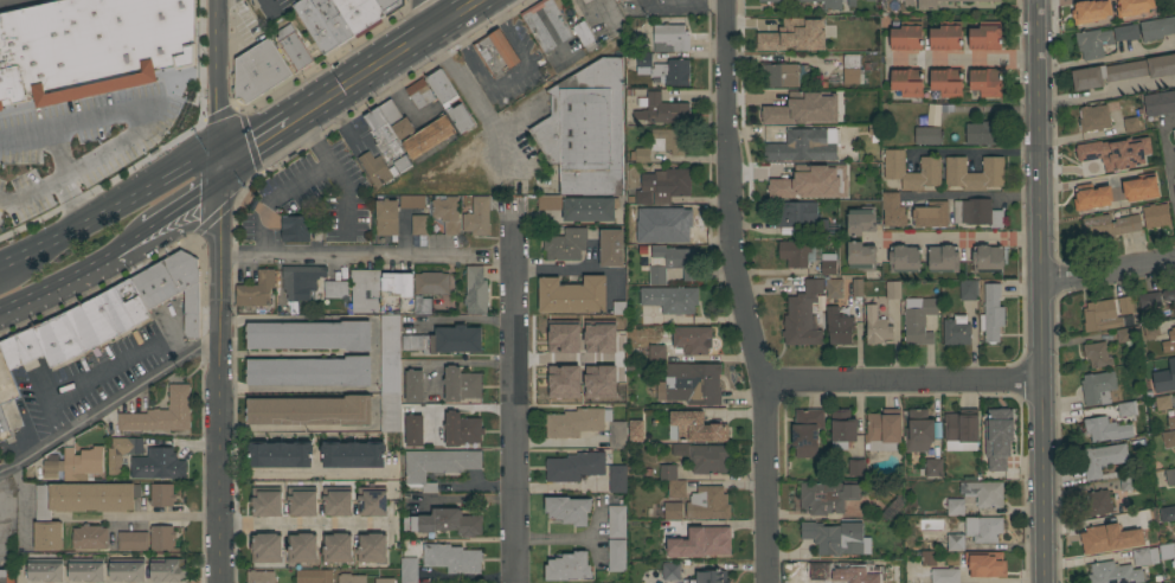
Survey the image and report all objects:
building: (617, 0)
building: (869, 0)
building: (589, 2)
building: (907, 2)
building: (850, 4)
building: (1171, 4)
building: (389, 5)
building: (926, 5)
building: (832, 7)
building: (1132, 7)
building: (1090, 11)
building: (359, 14)
road: (428, 14)
building: (333, 19)
building: (559, 24)
building: (315, 25)
building: (1157, 28)
building: (1125, 32)
building: (584, 36)
building: (794, 36)
building: (906, 36)
building: (945, 36)
building: (985, 36)
building: (672, 38)
building: (1092, 43)
building: (293, 47)
building: (94, 49)
building: (495, 52)
building: (643, 59)
road: (964, 59)
road: (386, 60)
building: (852, 70)
building: (259, 71)
building: (672, 71)
building: (1123, 71)
building: (785, 75)
building: (830, 81)
road: (218, 82)
building: (906, 82)
building: (985, 82)
building: (946, 83)
road: (1106, 92)
building: (420, 94)
building: (449, 100)
building: (1160, 103)
road: (482, 105)
building: (791, 109)
building: (661, 110)
road: (148, 113)
building: (1093, 117)
building: (396, 120)
building: (1131, 124)
building: (586, 129)
building: (981, 133)
building: (926, 135)
building: (429, 136)
building: (385, 139)
building: (668, 140)
road: (253, 143)
building: (804, 146)
road: (976, 149)
road: (60, 153)
building: (641, 155)
building: (1103, 159)
traffic signals: (218, 165)
building: (930, 165)
building: (377, 168)
road: (1167, 172)
building: (974, 173)
building: (814, 179)
road: (297, 182)
building: (662, 186)
building: (1139, 187)
building: (1174, 188)
road: (31, 191)
road: (974, 194)
building: (1091, 197)
road: (184, 201)
building: (412, 201)
building: (550, 204)
building: (589, 209)
building: (892, 210)
road: (108, 212)
building: (976, 212)
building: (795, 213)
building: (448, 214)
building: (930, 214)
building: (1155, 216)
building: (386, 217)
building: (477, 217)
building: (675, 220)
building: (861, 220)
building: (419, 225)
building: (1107, 226)
building: (295, 229)
building: (641, 237)
road: (967, 237)
building: (565, 244)
building: (610, 248)
building: (797, 252)
building: (861, 256)
road: (367, 258)
building: (943, 258)
building: (988, 258)
building: (904, 260)
building: (670, 263)
building: (828, 264)
road: (553, 268)
road: (1107, 269)
road: (75, 276)
building: (300, 281)
building: (397, 282)
building: (431, 283)
building: (172, 286)
building: (833, 288)
building: (856, 288)
building: (256, 289)
building: (335, 289)
building: (968, 289)
building: (475, 290)
building: (892, 290)
road: (1040, 291)
road: (738, 293)
building: (358, 294)
building: (572, 295)
building: (1169, 296)
building: (670, 299)
building: (1148, 303)
building: (422, 305)
building: (1124, 305)
building: (123, 306)
building: (991, 313)
building: (803, 314)
building: (1103, 316)
building: (92, 322)
building: (919, 322)
building: (837, 326)
building: (875, 327)
building: (567, 329)
building: (956, 331)
building: (1150, 331)
building: (310, 335)
building: (1124, 335)
building: (58, 339)
building: (692, 339)
building: (445, 340)
building: (1169, 341)
building: (615, 348)
building: (656, 353)
building: (1097, 354)
building: (27, 355)
road: (551, 355)
building: (615, 369)
building: (310, 371)
road: (221, 373)
building: (390, 373)
building: (1164, 378)
building: (6, 380)
road: (903, 383)
building: (461, 384)
building: (691, 384)
building: (413, 386)
building: (569, 387)
building: (1097, 387)
building: (608, 391)
road: (516, 397)
building: (1162, 402)
building: (1125, 409)
road: (113, 410)
building: (310, 410)
building: (161, 414)
building: (1170, 422)
building: (585, 425)
building: (2, 428)
building: (694, 428)
building: (462, 429)
building: (842, 429)
building: (961, 429)
building: (1106, 429)
building: (413, 430)
building: (635, 430)
building: (884, 430)
building: (918, 430)
building: (805, 431)
building: (1001, 437)
building: (1168, 438)
building: (1174, 449)
building: (122, 451)
building: (280, 454)
building: (353, 454)
building: (704, 457)
building: (1103, 461)
building: (51, 463)
building: (82, 463)
building: (158, 465)
building: (437, 466)
building: (855, 467)
building: (933, 467)
building: (585, 469)
road: (303, 472)
building: (1169, 476)
building: (672, 481)
building: (1130, 482)
road: (558, 485)
building: (984, 493)
building: (161, 495)
building: (827, 495)
building: (265, 501)
building: (301, 501)
building: (336, 501)
building: (371, 501)
building: (707, 502)
building: (1098, 502)
building: (76, 506)
building: (955, 507)
building: (567, 510)
building: (672, 511)
building: (1167, 513)
road: (137, 515)
building: (616, 521)
building: (1139, 521)
building: (444, 523)
road: (302, 525)
building: (676, 528)
building: (974, 532)
building: (89, 537)
building: (161, 537)
road: (557, 537)
building: (834, 537)
building: (1102, 538)
building: (131, 540)
building: (713, 540)
building: (267, 547)
building: (302, 547)
building: (336, 547)
building: (372, 547)
building: (1167, 551)
building: (616, 555)
building: (1144, 556)
building: (450, 557)
building: (927, 558)
building: (984, 564)
building: (567, 566)
building: (86, 569)
building: (45, 570)
building: (127, 570)
building: (168, 570)
building: (409, 570)
building: (670, 571)
building: (817, 572)
building: (1113, 574)
building: (7, 576)
building: (314, 576)
building: (707, 576)
building: (944, 576)
building: (261, 577)
building: (351, 578)
building: (384, 581)
building: (850, 582)

